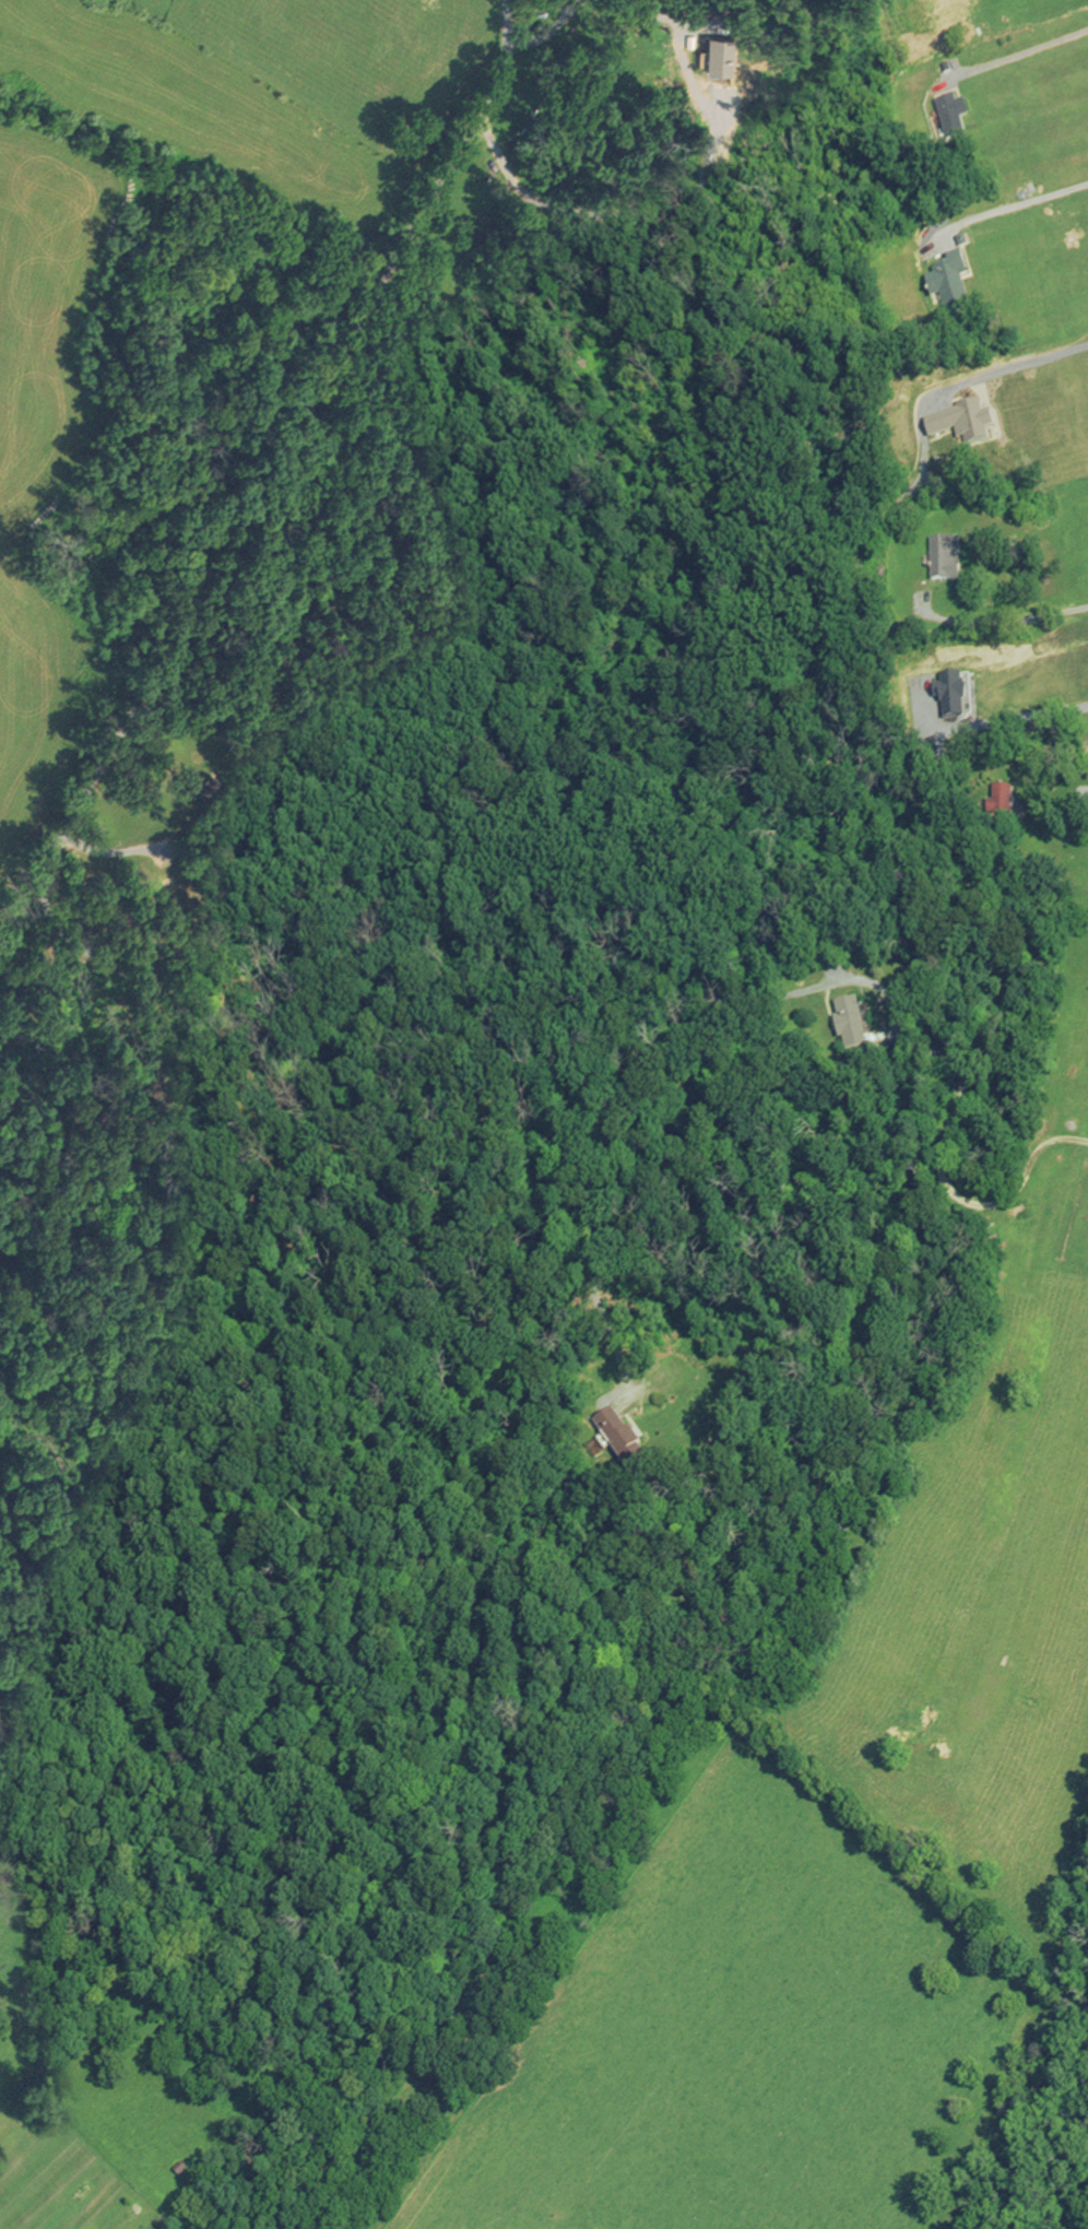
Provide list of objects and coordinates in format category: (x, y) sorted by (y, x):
road: (561, 12)
road: (1017, 55)
building: (946, 118)
road: (1012, 208)
building: (949, 288)
road: (1003, 365)
building: (938, 561)
road: (1010, 626)
road: (134, 713)
road: (991, 726)
road: (1060, 795)
building: (839, 1021)
road: (941, 1145)
building: (610, 1434)

